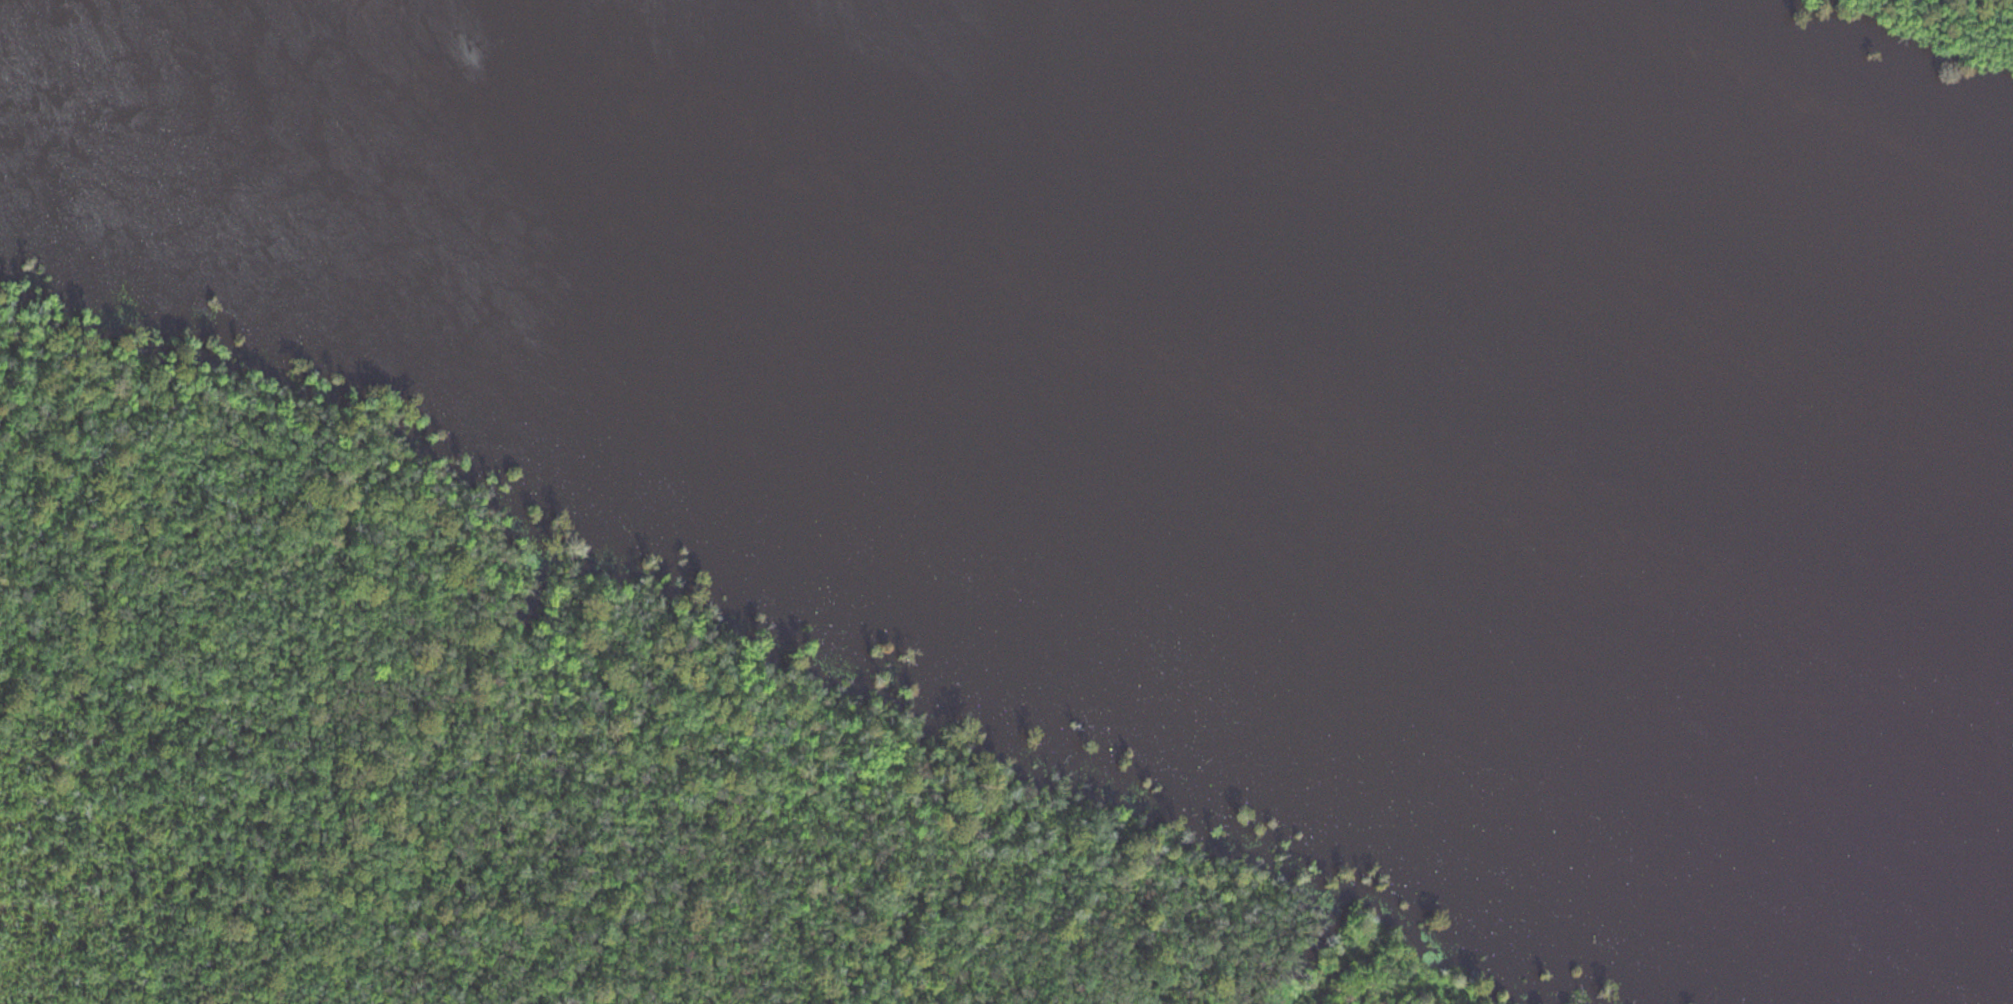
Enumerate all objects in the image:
river: (840, 105)
river: (1525, 394)

